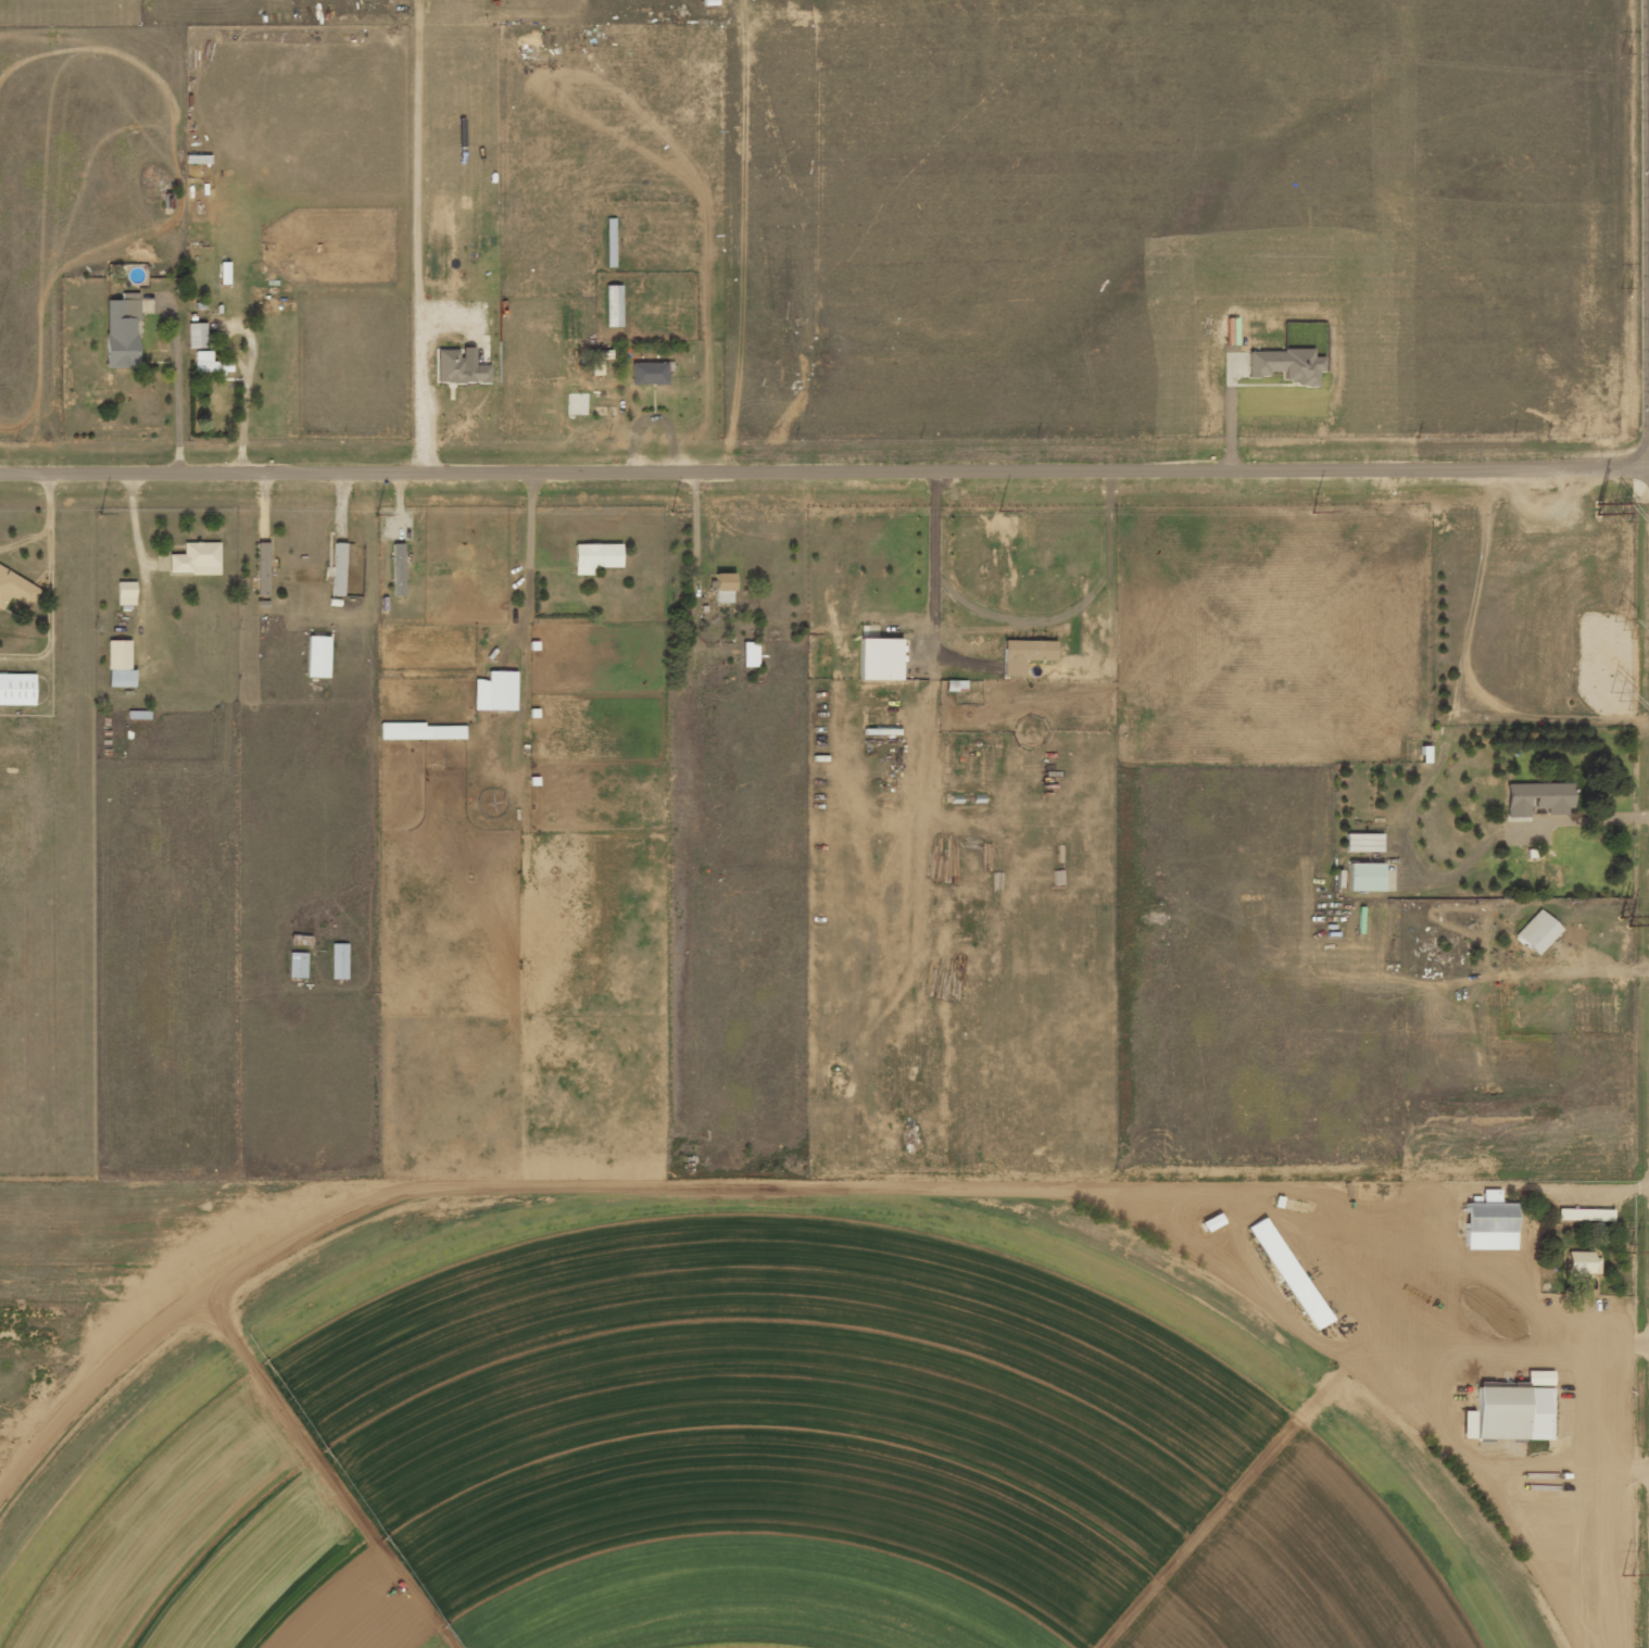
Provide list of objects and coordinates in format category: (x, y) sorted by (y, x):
power tower: (1624, 54)
power tower: (1624, 288)
building: (121, 330)
building: (196, 335)
building: (209, 363)
building: (1285, 365)
building: (458, 368)
building: (647, 373)
building: (604, 400)
road: (823, 467)
power tower: (1297, 507)
power tower: (982, 508)
power tower: (665, 511)
power tower: (379, 512)
power tower: (95, 513)
power tower: (1620, 513)
building: (595, 557)
building: (196, 558)
building: (262, 568)
building: (338, 568)
building: (398, 569)
building: (722, 588)
building: (15, 589)
building: (125, 593)
power tower: (1621, 629)
building: (750, 654)
building: (1024, 654)
building: (317, 656)
building: (878, 658)
building: (118, 664)
power tower: (1621, 664)
building: (16, 689)
building: (495, 691)
power tower: (1619, 701)
building: (421, 731)
building: (1536, 798)
building: (1362, 842)
building: (1363, 877)
power tower: (1623, 896)
building: (1536, 932)
building: (339, 960)
building: (297, 965)
building: (1583, 1215)
building: (1210, 1222)
building: (1488, 1223)
power tower: (1624, 1244)
building: (1582, 1263)
building: (1287, 1273)
building: (1537, 1377)
building: (1509, 1413)
power tower: (1625, 1576)

